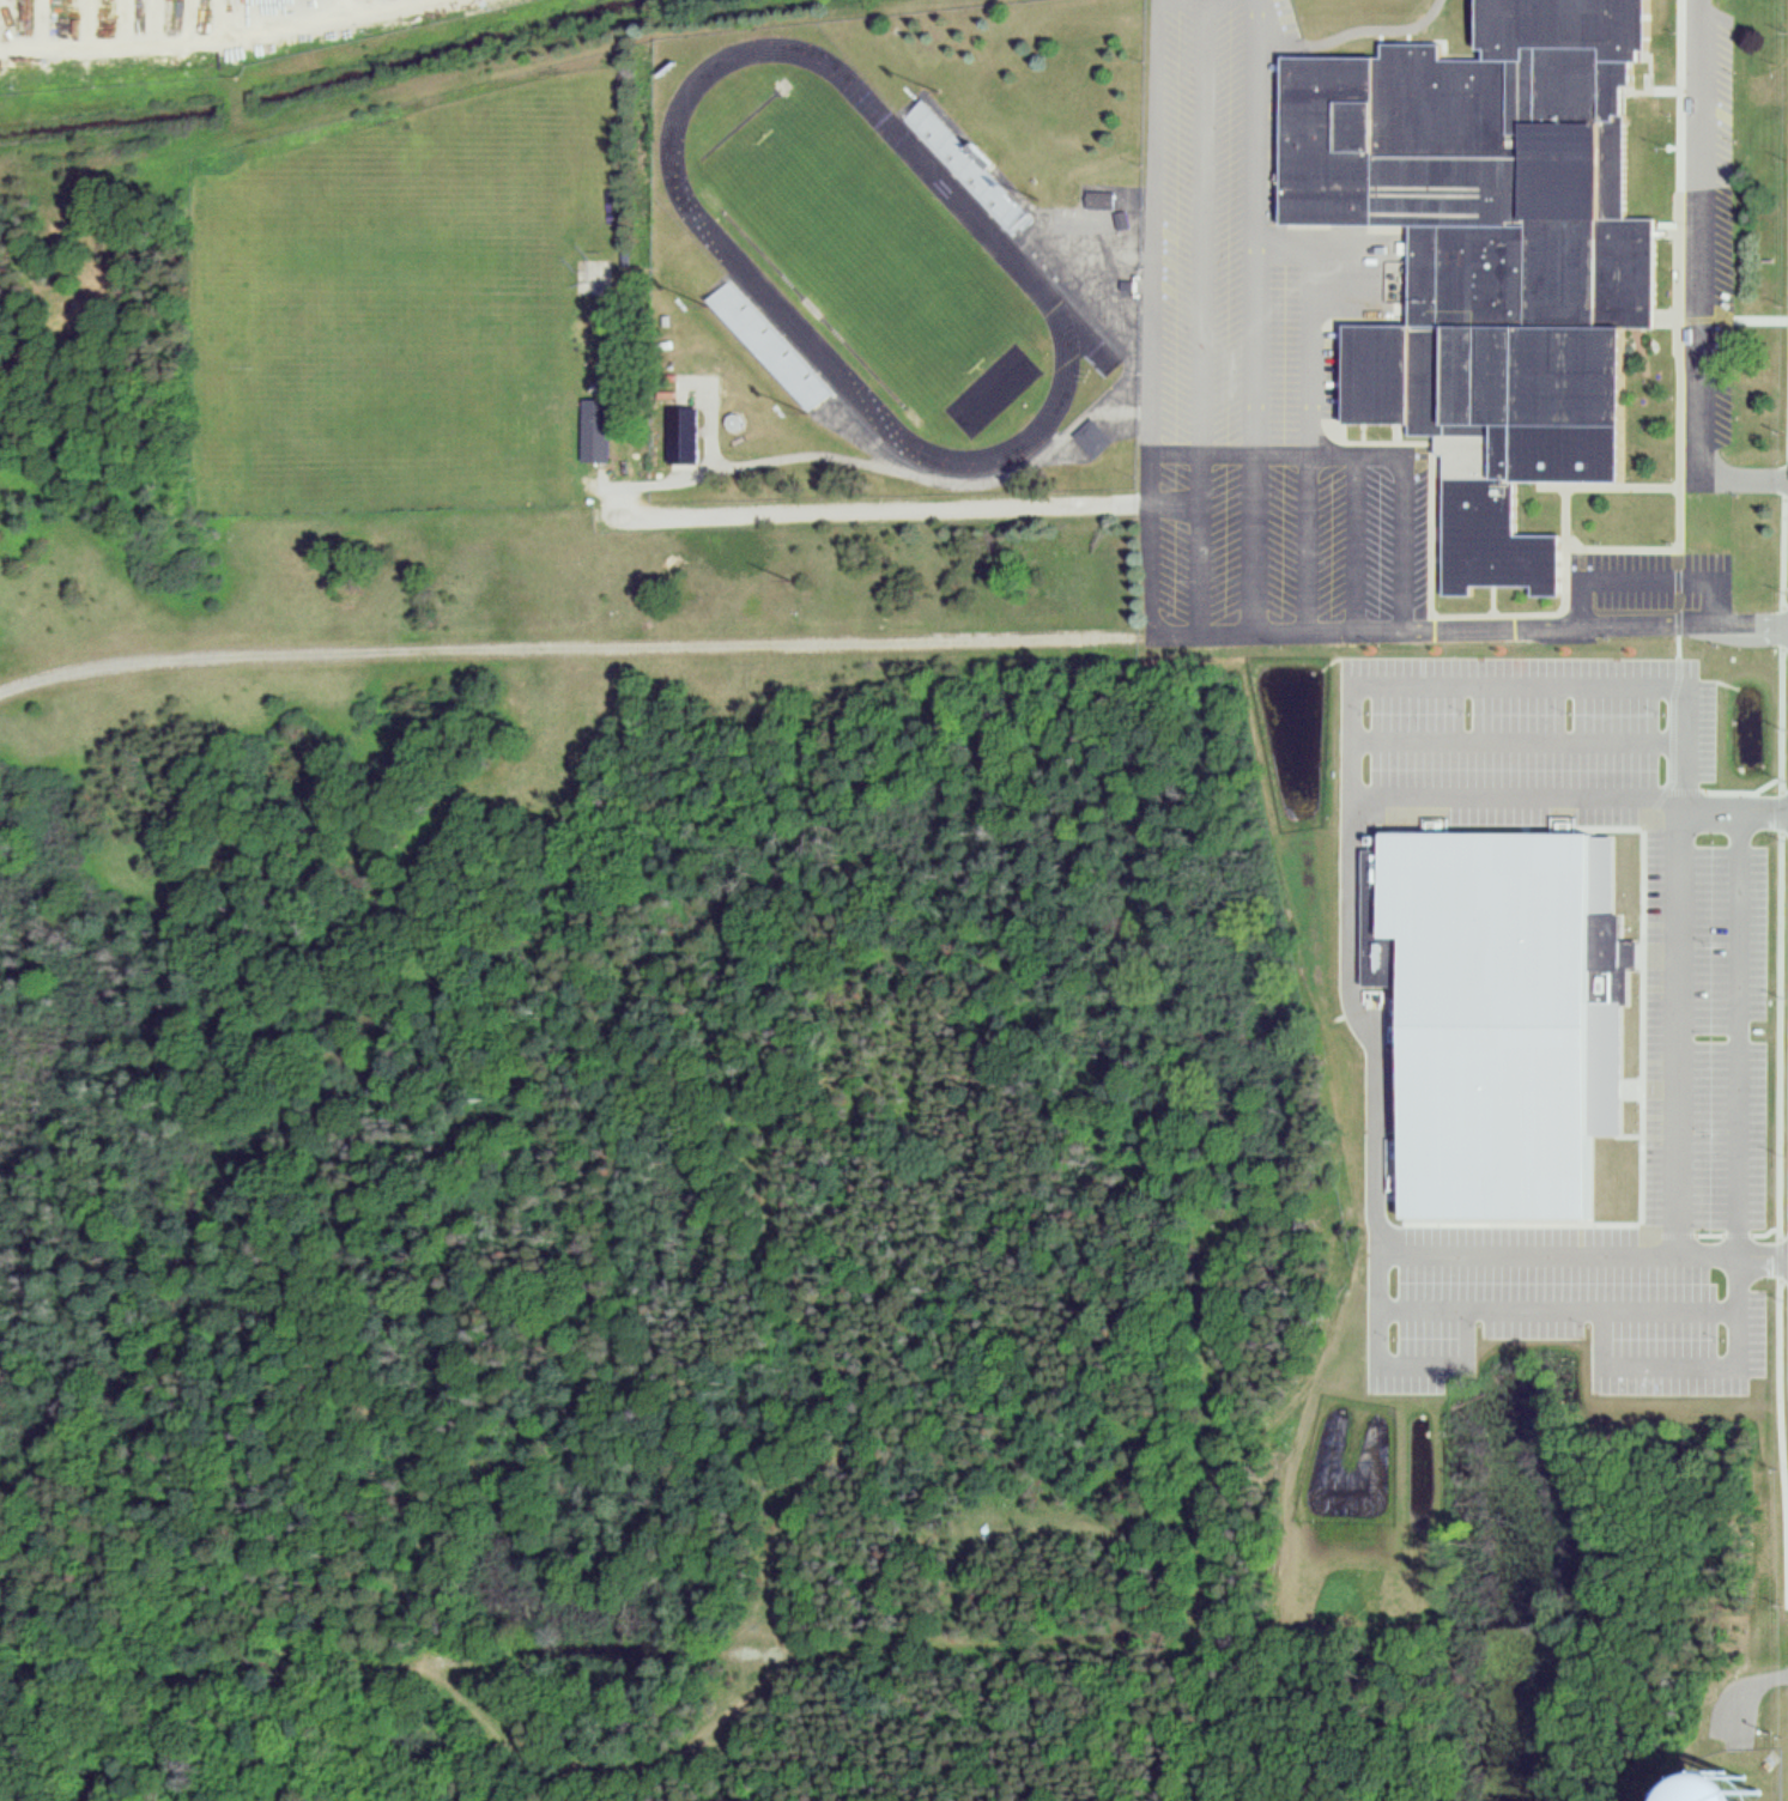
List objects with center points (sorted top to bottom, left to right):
road: (1243, 1)
road: (1351, 31)
building: (969, 163)
building: (1492, 244)
park: (868, 250)
track: (740, 266)
road: (1703, 279)
road: (1152, 314)
road: (1200, 315)
road: (1255, 315)
building: (774, 344)
road: (1309, 414)
building: (594, 426)
building: (681, 429)
road: (1360, 454)
road: (866, 508)
road: (1356, 541)
road: (1650, 578)
road: (1471, 627)
road: (575, 644)
road: (1519, 685)
road: (1516, 738)
road: (1568, 806)
building: (1492, 1015)
road: (1684, 1032)
road: (1734, 1033)
road: (1372, 1231)
road: (1374, 1281)
road: (1456, 1310)
road: (1693, 1364)
building: (1654, 1782)

